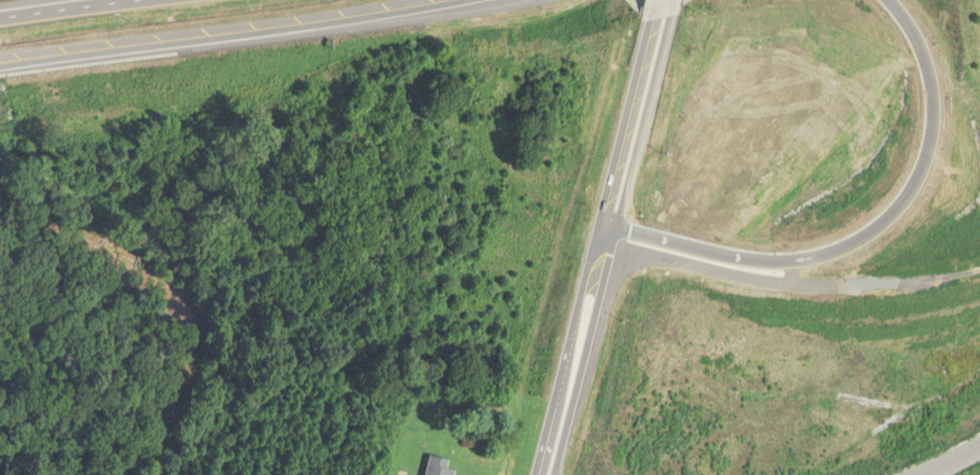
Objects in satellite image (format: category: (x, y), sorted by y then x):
road: (69, 8)
road: (671, 8)
road: (649, 11)
road: (222, 33)
road: (623, 129)
road: (859, 234)
traffic signals: (600, 236)
road: (617, 247)
building: (727, 266)
road: (570, 355)
road: (949, 460)
building: (436, 467)

